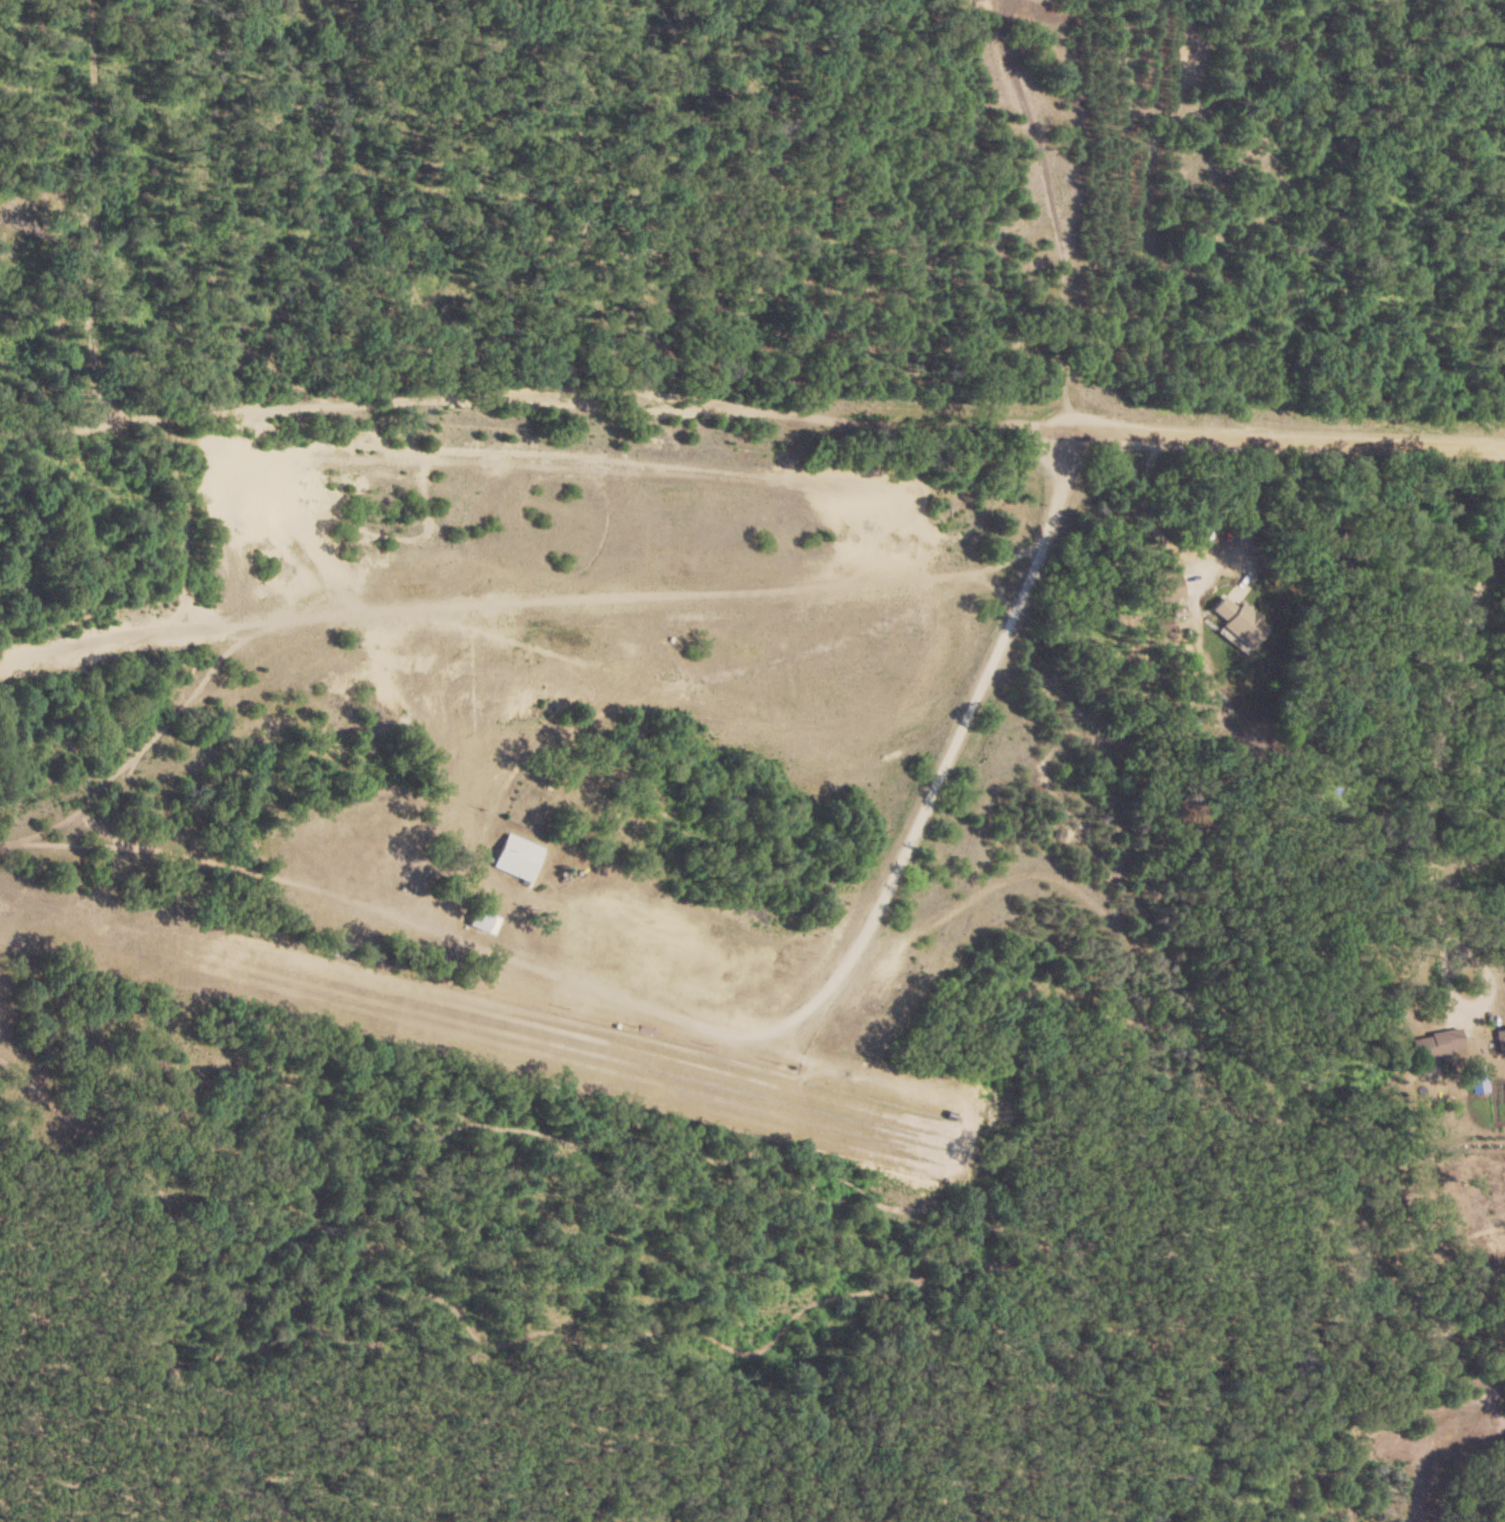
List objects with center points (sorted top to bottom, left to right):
road: (753, 394)
road: (1247, 500)
building: (1238, 622)
road: (1445, 702)
road: (885, 838)
building: (516, 857)
building: (482, 921)
road: (1477, 1004)
building: (1499, 1039)
building: (1436, 1043)

